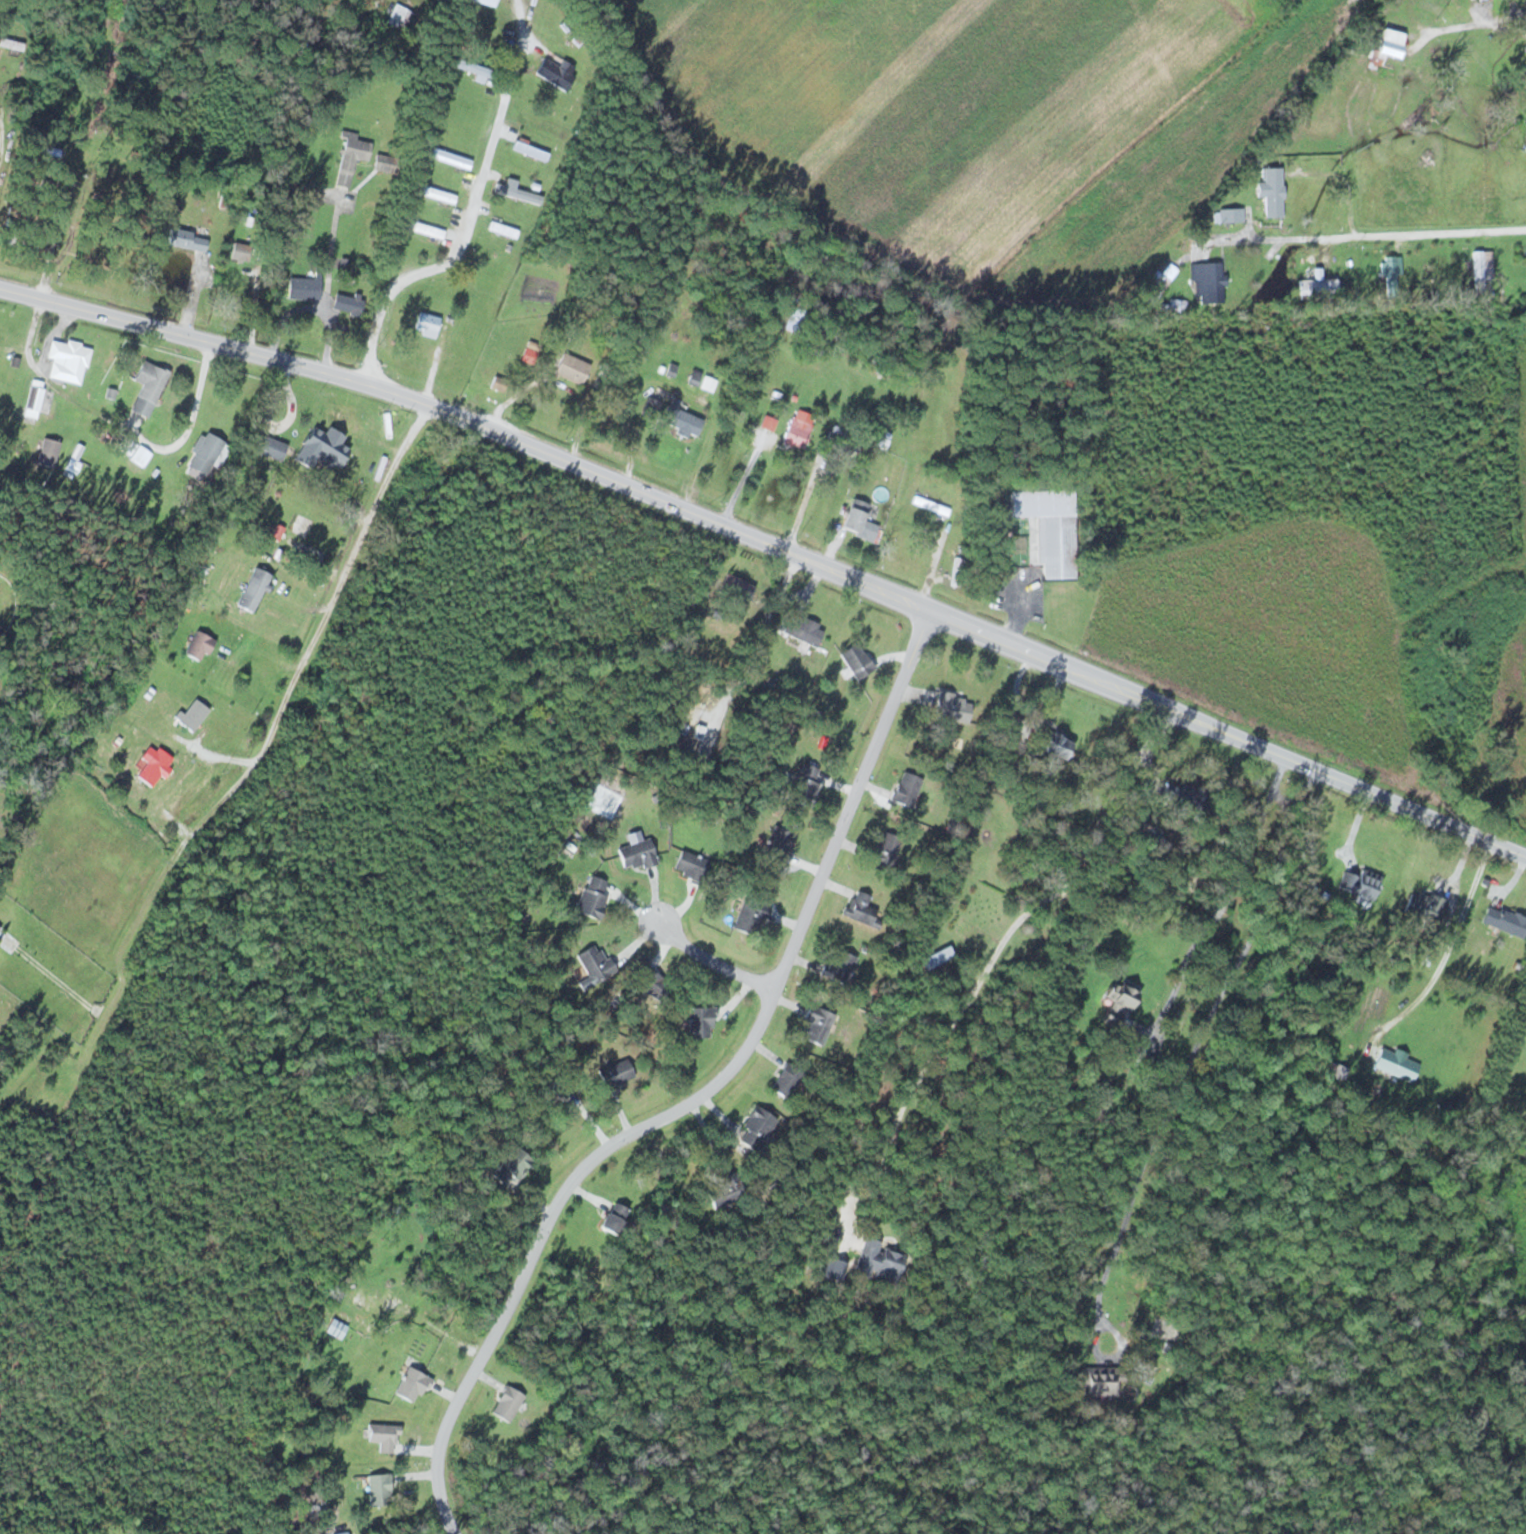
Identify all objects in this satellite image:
building: (485, 2)
building: (80, 10)
building: (72, 34)
building: (11, 44)
building: (1387, 47)
road: (5, 58)
building: (476, 71)
building: (556, 73)
building: (136, 77)
building: (53, 97)
building: (529, 150)
building: (350, 157)
building: (450, 158)
building: (383, 162)
building: (110, 177)
building: (515, 191)
building: (1271, 192)
building: (437, 193)
road: (472, 209)
building: (1230, 215)
building: (502, 229)
building: (428, 230)
road: (1372, 232)
building: (185, 239)
building: (1482, 268)
building: (1390, 272)
building: (1207, 281)
building: (303, 287)
building: (1317, 289)
building: (347, 302)
building: (794, 319)
building: (67, 362)
building: (568, 367)
building: (694, 377)
building: (707, 383)
building: (146, 389)
building: (32, 405)
building: (650, 407)
building: (337, 421)
building: (681, 421)
building: (796, 432)
building: (268, 447)
building: (46, 453)
building: (138, 455)
building: (100, 460)
building: (857, 519)
building: (1038, 530)
road: (772, 539)
building: (252, 588)
building: (730, 588)
building: (802, 629)
building: (197, 645)
building: (856, 659)
building: (952, 706)
building: (192, 714)
road: (279, 719)
building: (1050, 742)
building: (152, 764)
building: (805, 784)
building: (905, 788)
building: (1184, 796)
building: (777, 843)
building: (884, 849)
building: (636, 854)
building: (690, 865)
building: (1359, 883)
building: (593, 897)
building: (1422, 906)
building: (862, 910)
building: (749, 914)
building: (1504, 920)
building: (10, 943)
road: (713, 958)
building: (593, 965)
building: (839, 967)
building: (654, 985)
building: (1117, 1003)
building: (700, 1021)
building: (816, 1025)
building: (1396, 1063)
building: (614, 1073)
building: (789, 1082)
road: (699, 1096)
building: (507, 1166)
building: (721, 1193)
building: (612, 1217)
building: (877, 1262)
building: (1097, 1381)
building: (410, 1384)
building: (505, 1402)
building: (382, 1436)
building: (378, 1487)

